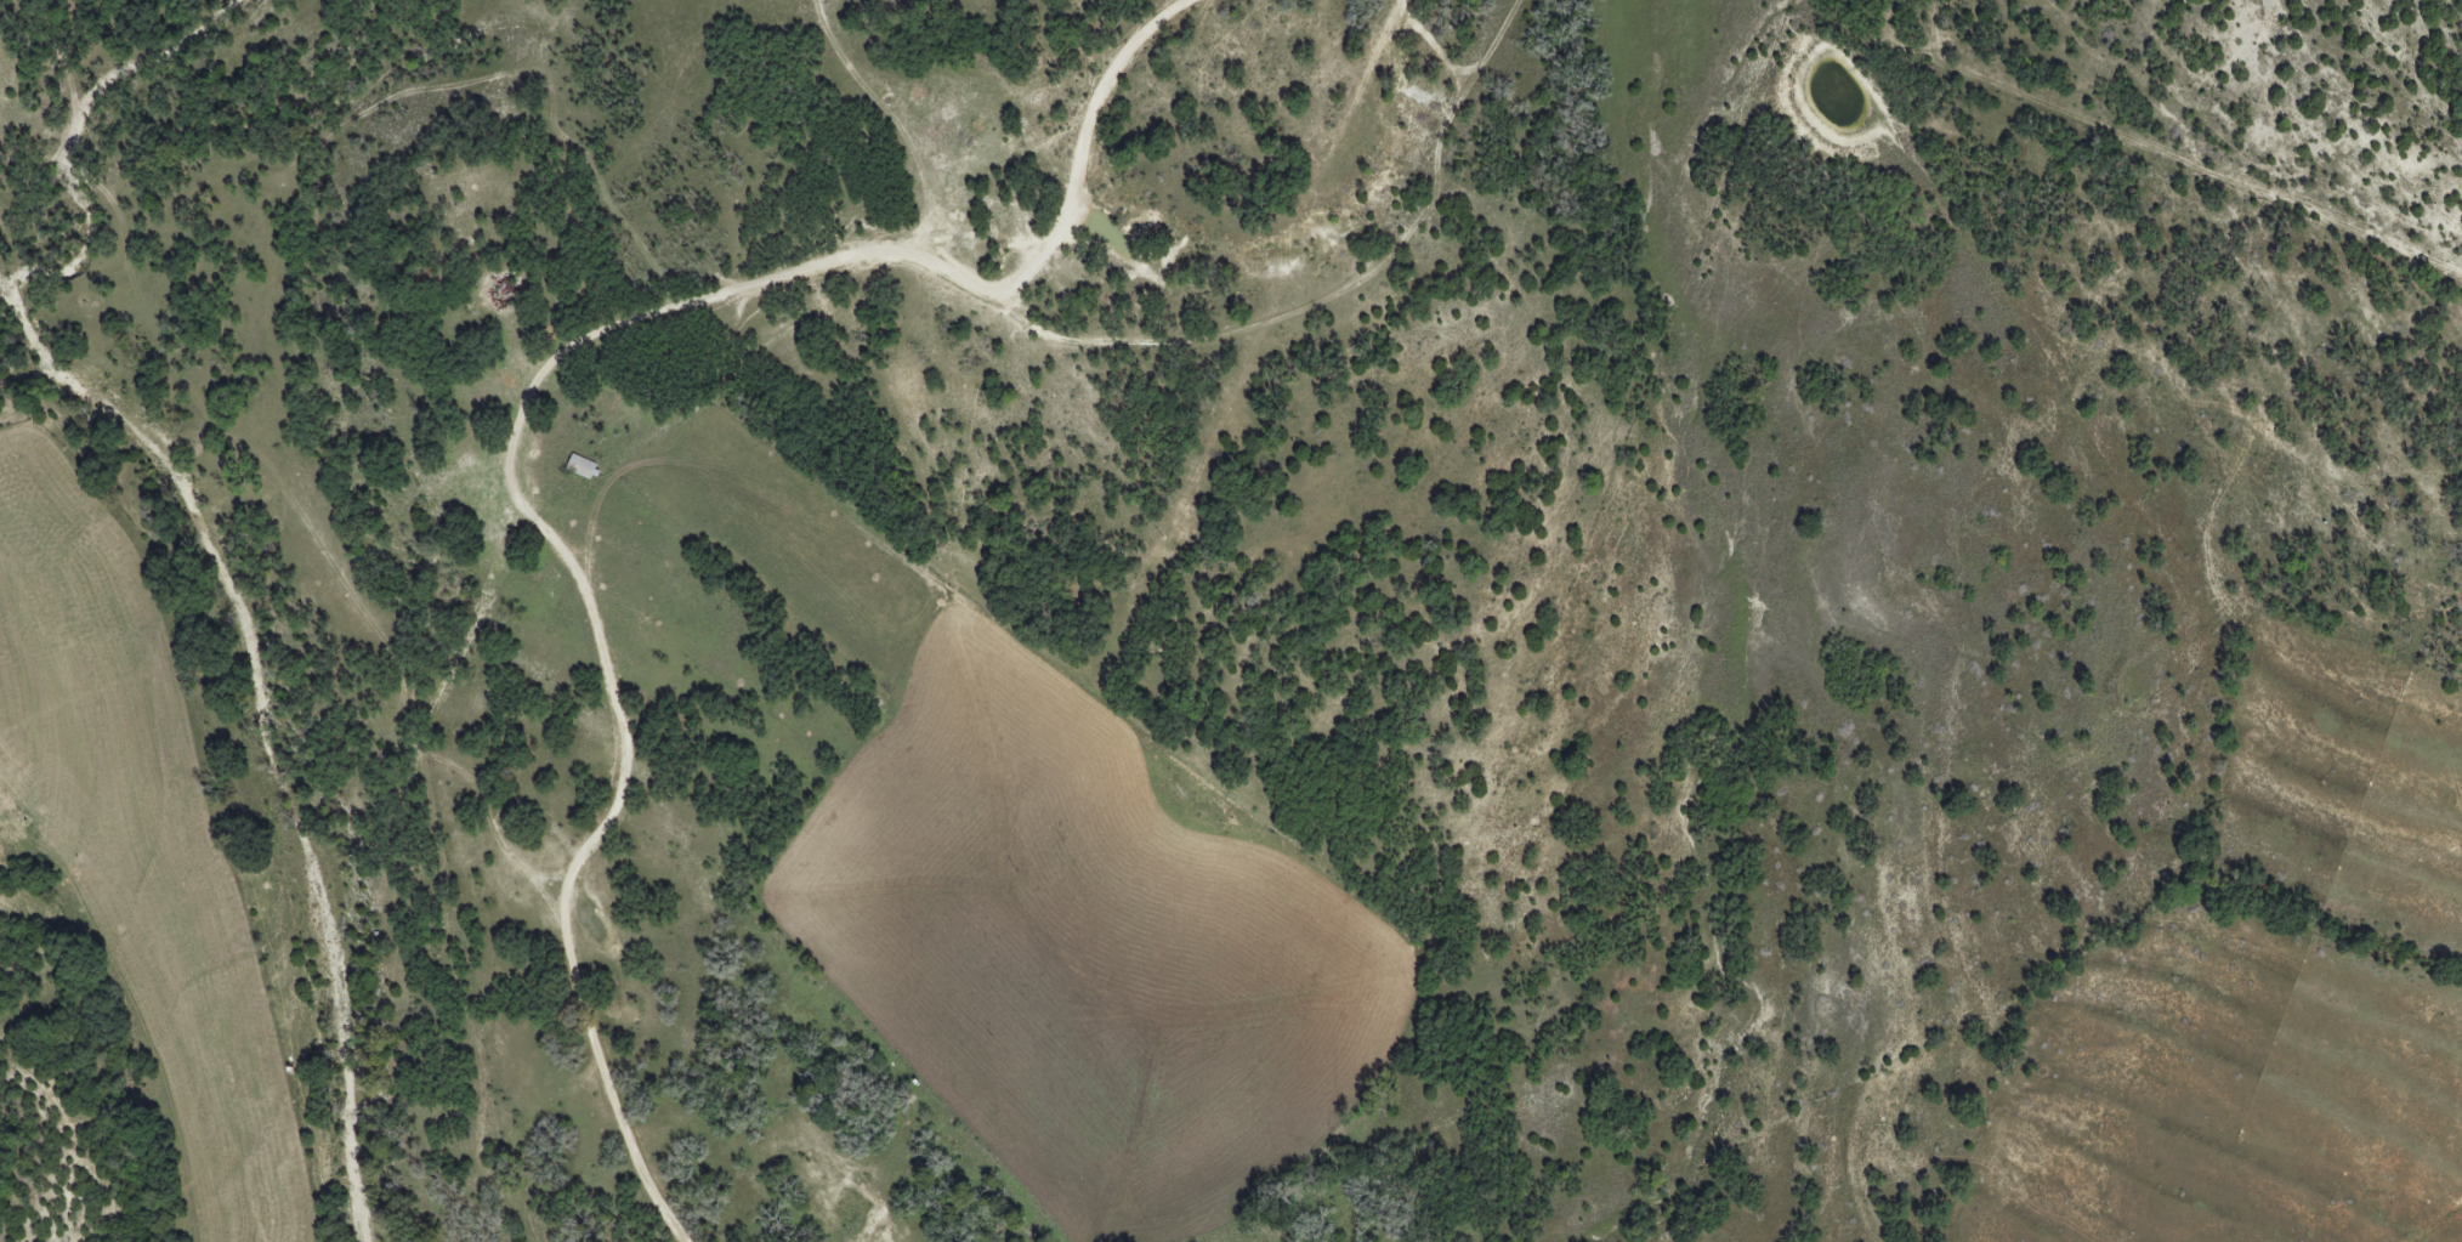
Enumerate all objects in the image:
road: (518, 410)
building: (579, 467)

